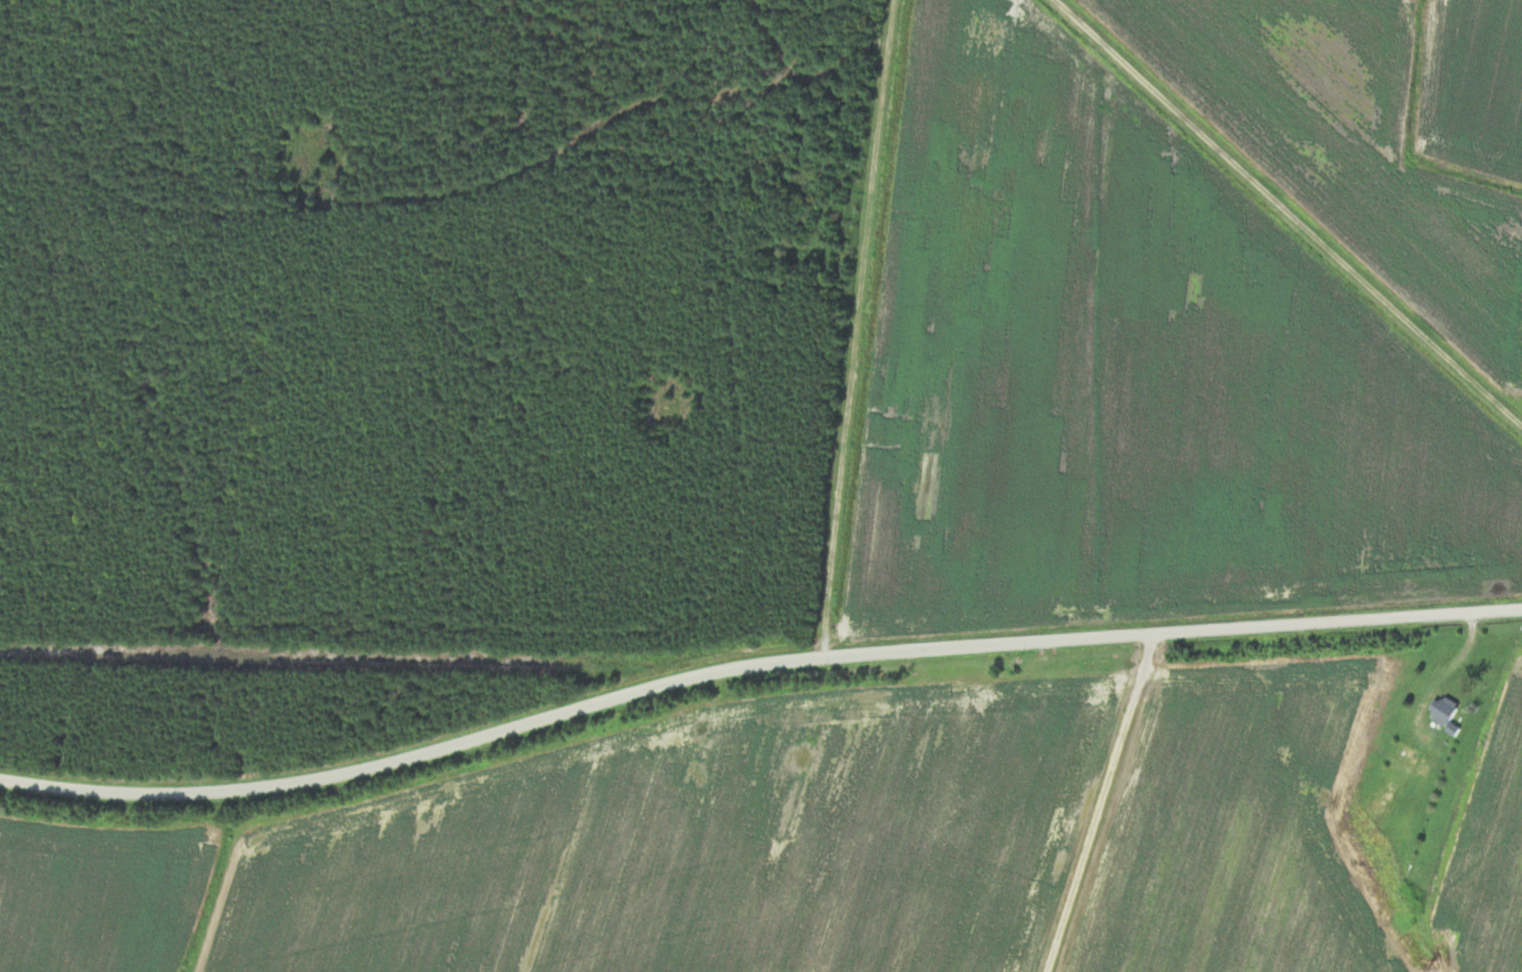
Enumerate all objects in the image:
road: (856, 328)
road: (753, 667)
building: (1444, 712)

